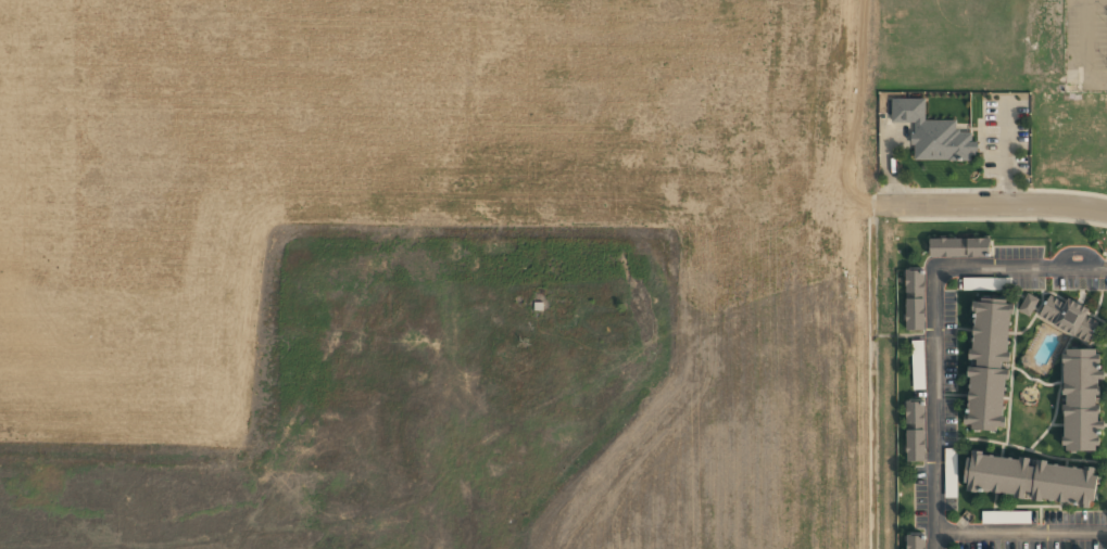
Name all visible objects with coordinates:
building: (928, 132)
road: (995, 204)
building: (959, 247)
building: (986, 283)
building: (915, 299)
building: (1028, 304)
building: (1068, 316)
road: (932, 321)
building: (917, 365)
building: (988, 365)
building: (1081, 399)
building: (915, 431)
building: (949, 472)
building: (1030, 478)
building: (1005, 516)
road: (1020, 531)
building: (915, 541)

